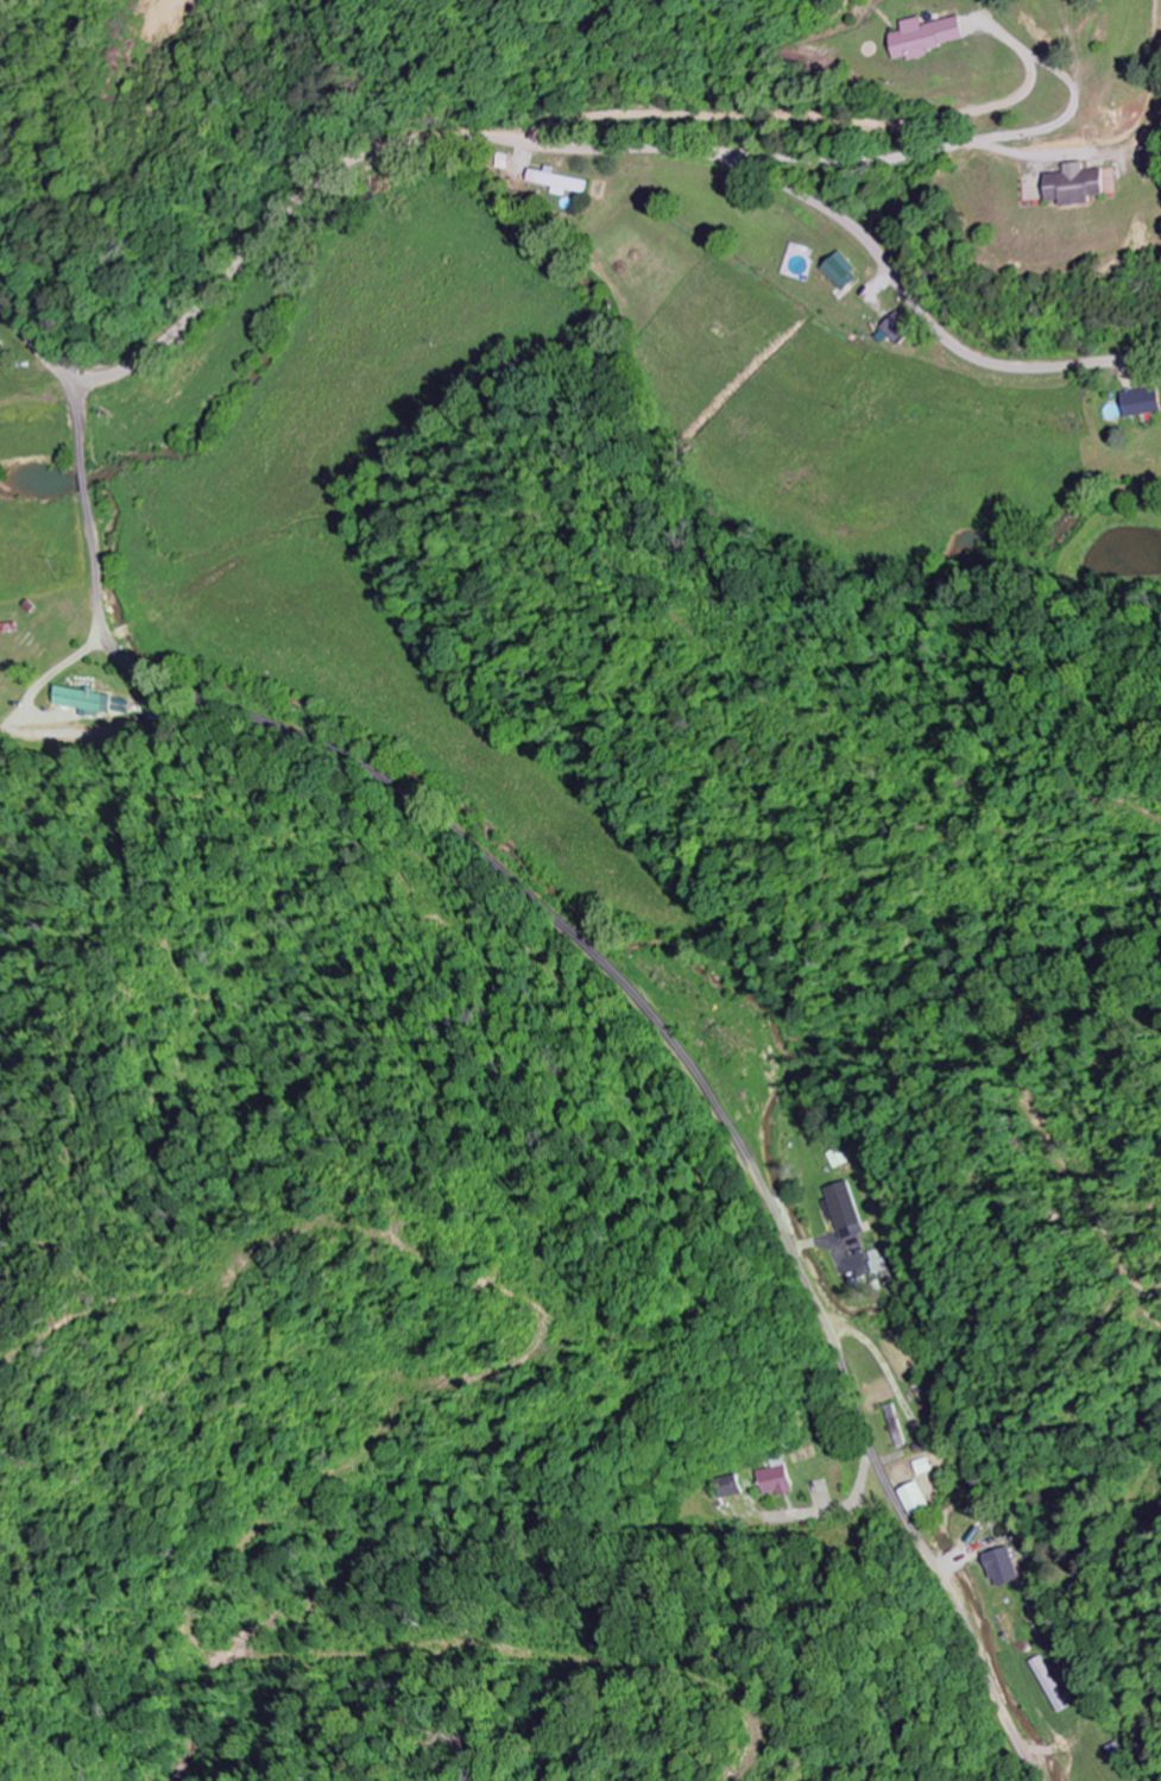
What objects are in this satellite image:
building: (935, 37)
road: (557, 141)
road: (941, 150)
building: (569, 182)
building: (1084, 184)
building: (845, 270)
building: (901, 328)
building: (2, 344)
building: (1144, 403)
building: (84, 700)
road: (627, 986)
building: (844, 1209)
building: (775, 1478)
building: (726, 1486)
building: (917, 1498)
building: (1004, 1565)

